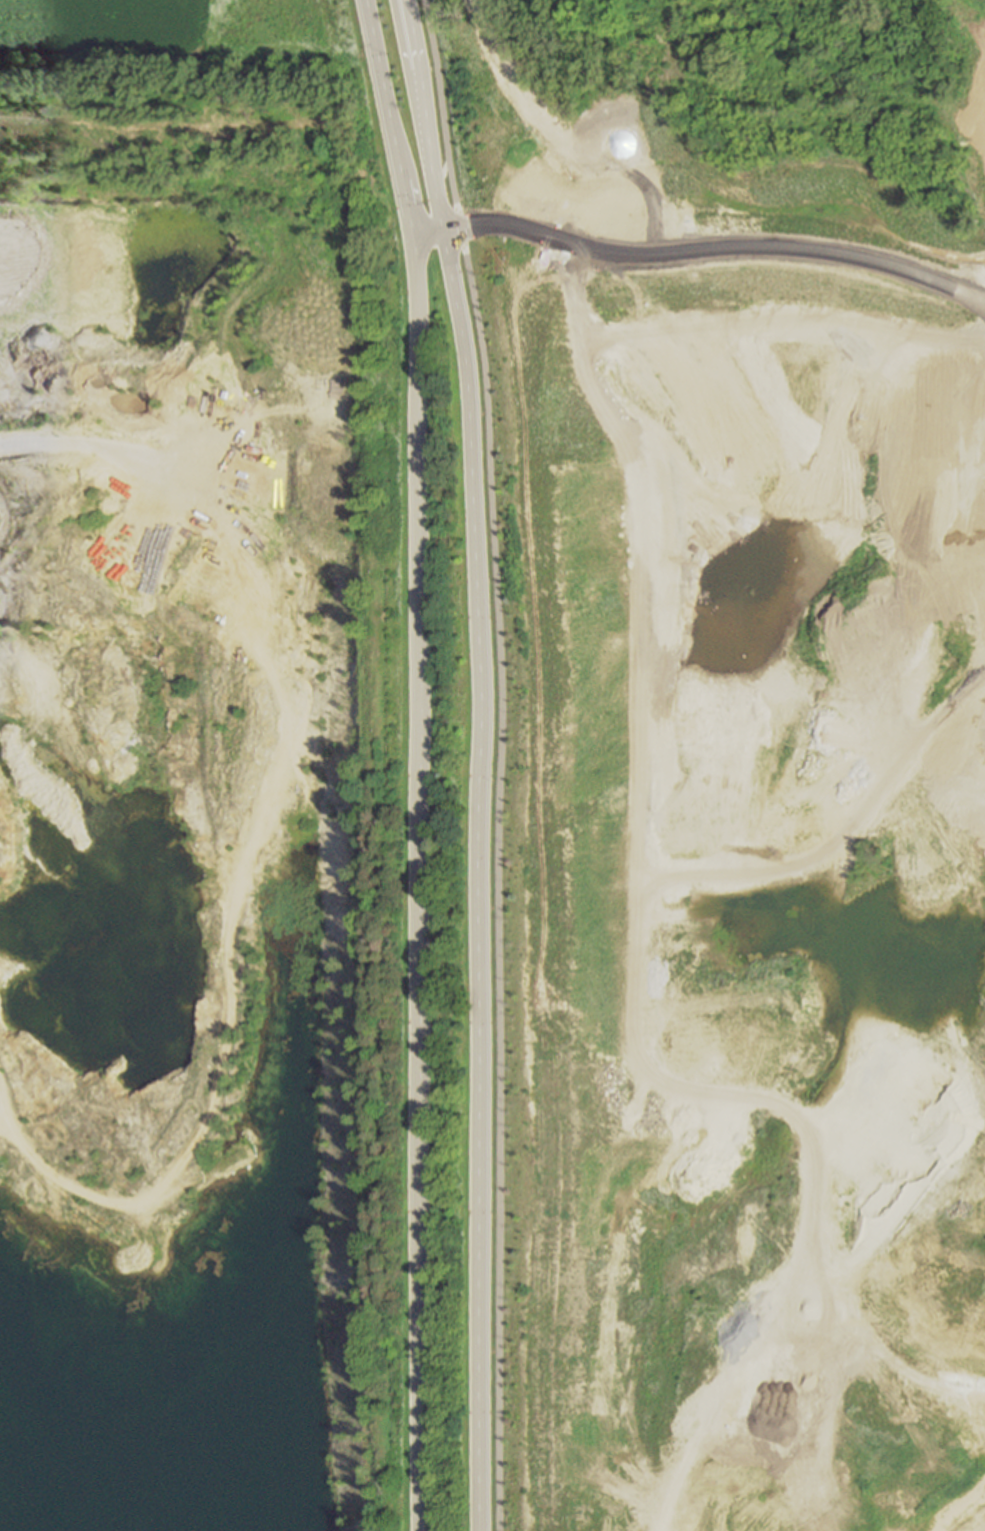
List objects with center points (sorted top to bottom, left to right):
crop: (102, 46)
park: (283, 49)
road: (425, 114)
road: (387, 118)
road: (446, 169)
road: (502, 231)
road: (497, 762)
quarry: (500, 785)
road: (476, 878)
road: (417, 883)

